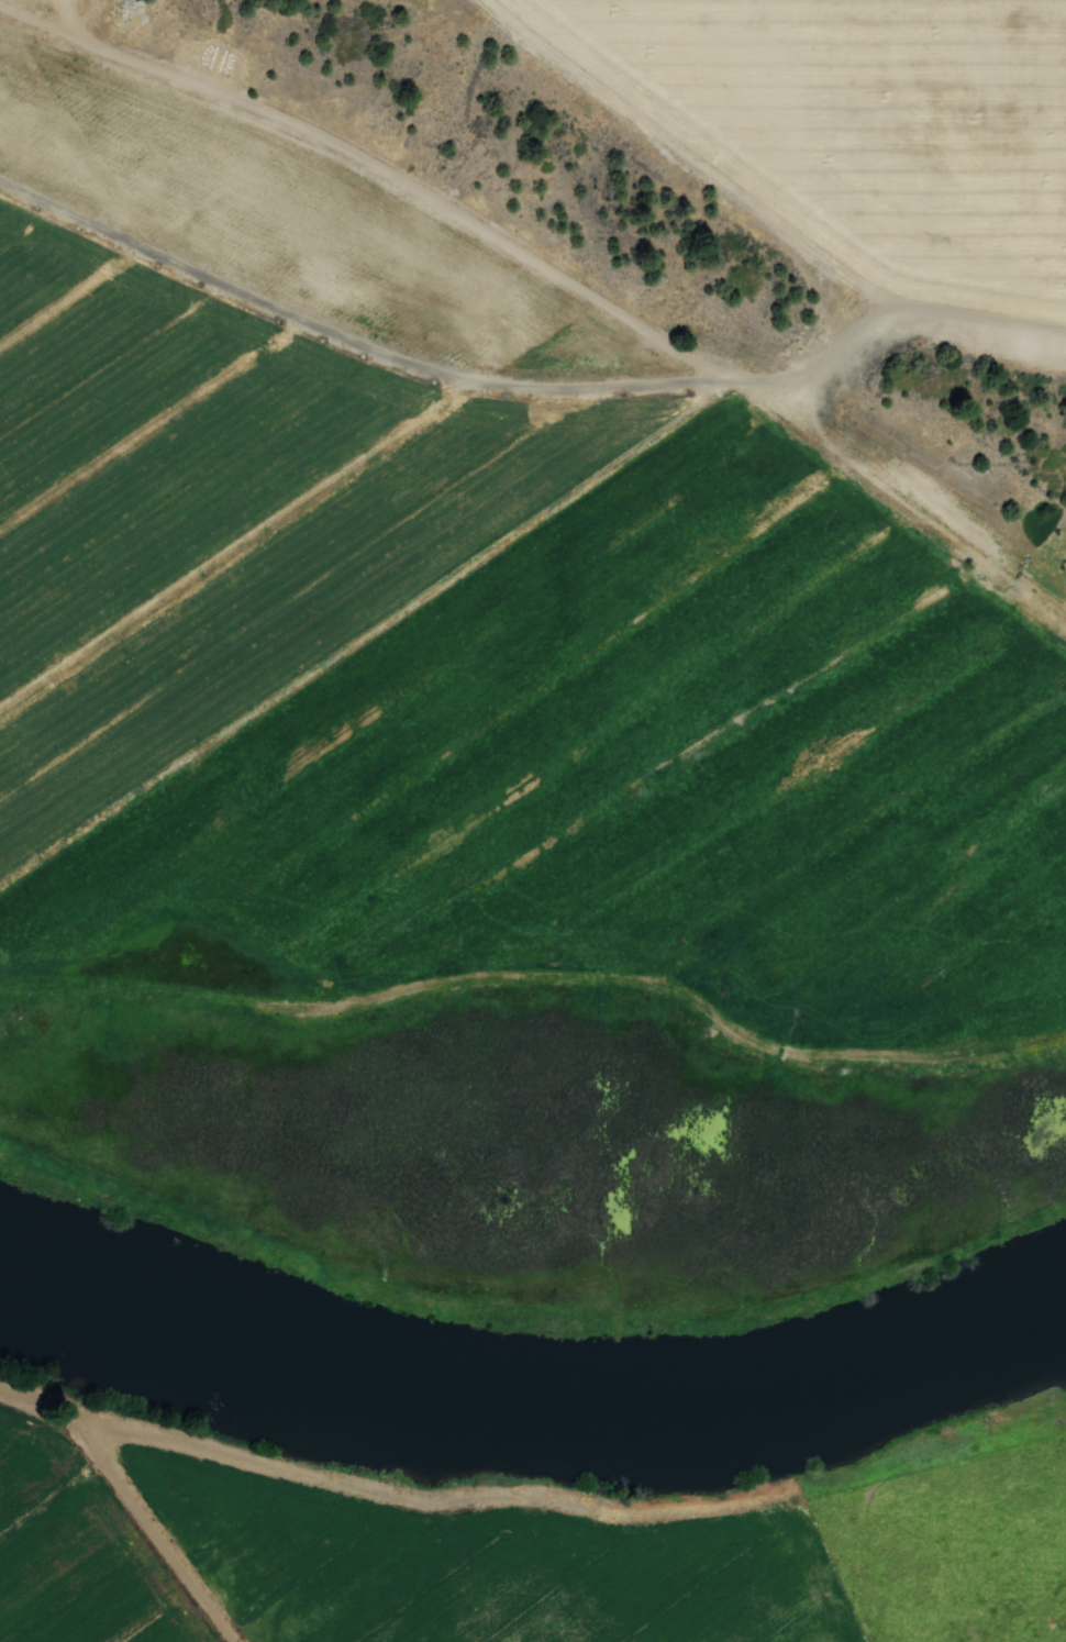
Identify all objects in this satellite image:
river: (531, 1414)

